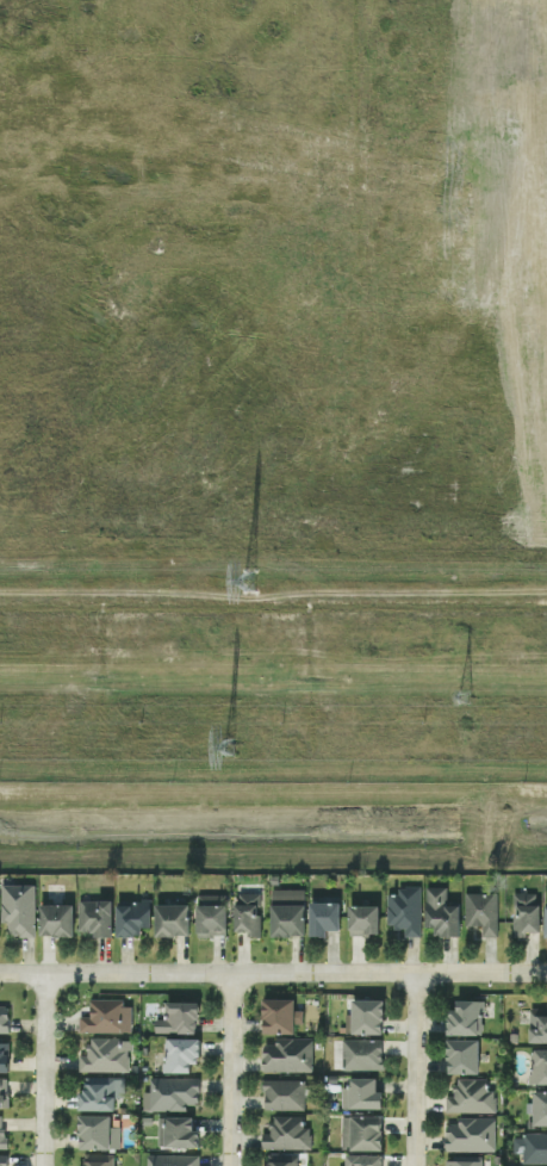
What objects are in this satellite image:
road: (498, 159)
building: (316, 170)
road: (487, 380)
road: (213, 384)
road: (504, 423)
road: (251, 426)
road: (64, 429)
road: (251, 469)
road: (273, 521)
power tower: (251, 581)
power tower: (468, 699)
power tower: (229, 751)
building: (17, 910)
building: (404, 911)
building: (286, 912)
building: (440, 912)
building: (480, 912)
building: (247, 913)
building: (524, 913)
building: (210, 916)
building: (94, 917)
building: (322, 917)
building: (131, 918)
building: (55, 919)
building: (170, 919)
building: (362, 920)
building: (545, 920)
road: (273, 973)
building: (280, 1016)
building: (106, 1017)
building: (366, 1017)
building: (178, 1018)
building: (465, 1018)
building: (4, 1019)
building: (537, 1025)
building: (179, 1054)
building: (361, 1054)
building: (2, 1055)
building: (287, 1055)
building: (105, 1056)
building: (461, 1056)
building: (537, 1066)
road: (416, 1068)
road: (44, 1069)
road: (231, 1069)
building: (2, 1093)
building: (99, 1093)
building: (170, 1094)
building: (282, 1094)
building: (360, 1094)
building: (470, 1098)
building: (539, 1108)
building: (1, 1133)
building: (98, 1133)
building: (176, 1133)
building: (360, 1133)
building: (286, 1134)
building: (470, 1135)
building: (535, 1148)
building: (2, 1160)
building: (95, 1160)
building: (170, 1160)
building: (279, 1160)
building: (362, 1160)
building: (462, 1162)

